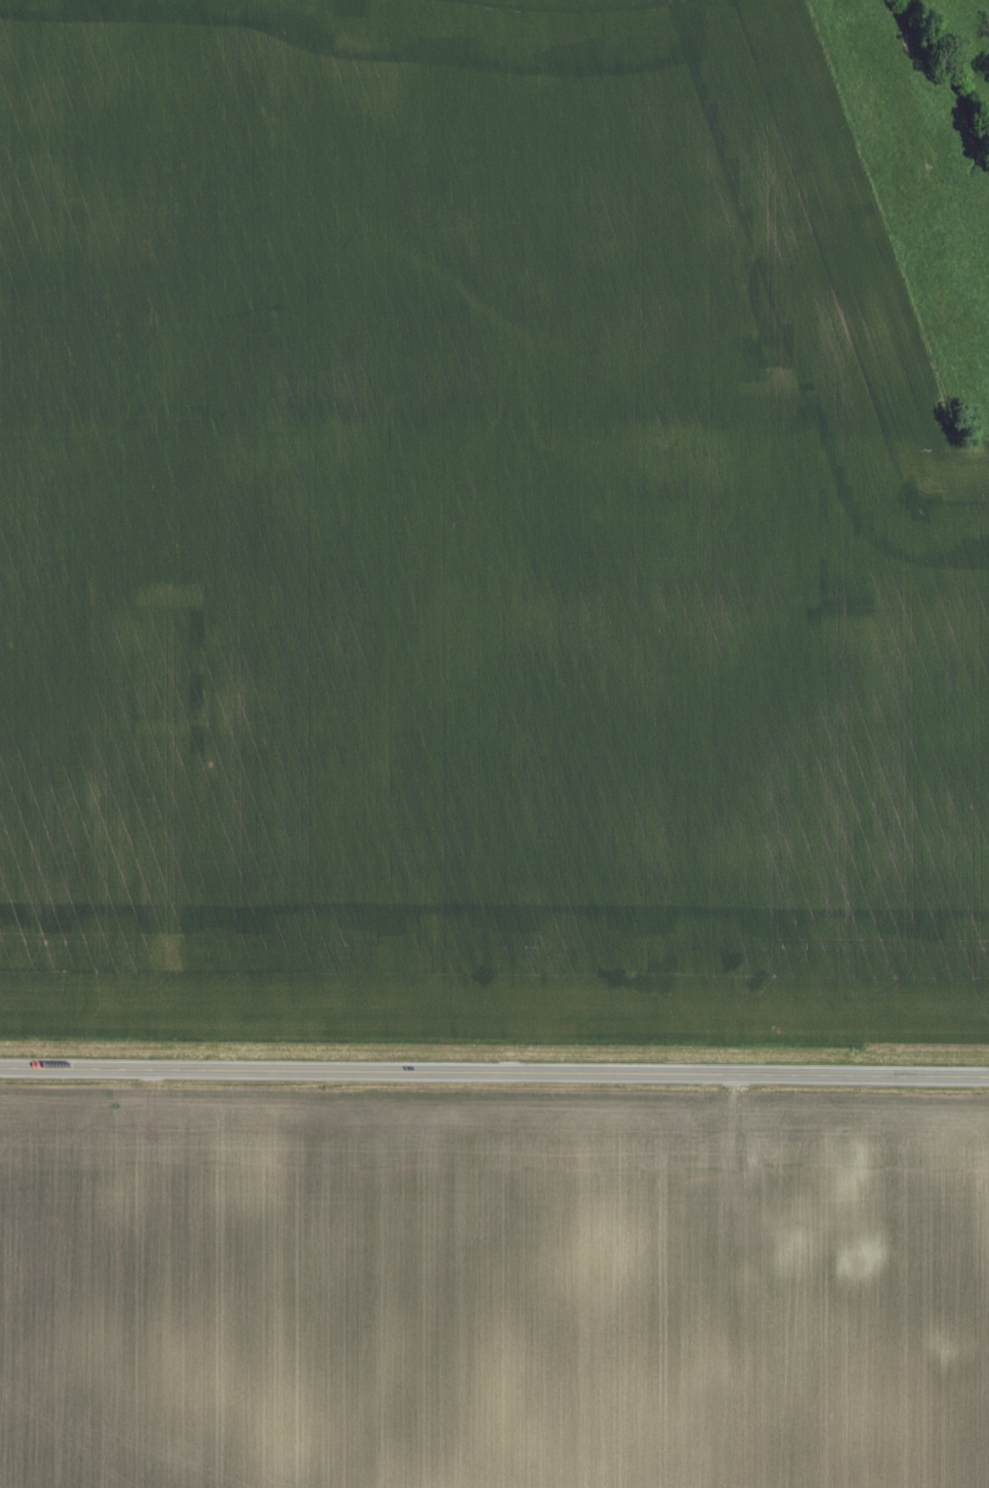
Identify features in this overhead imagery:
road: (494, 1068)

